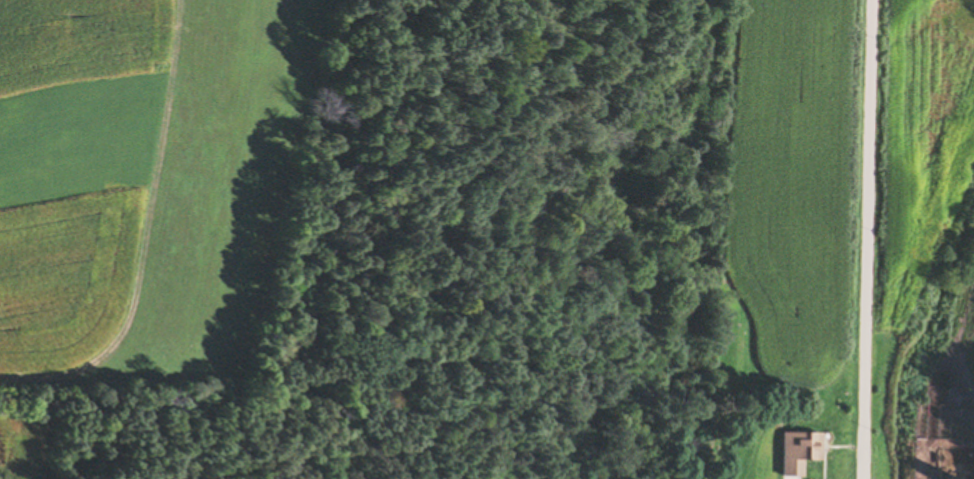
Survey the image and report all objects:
crop: (138, 181)
road: (863, 239)
building: (804, 445)

